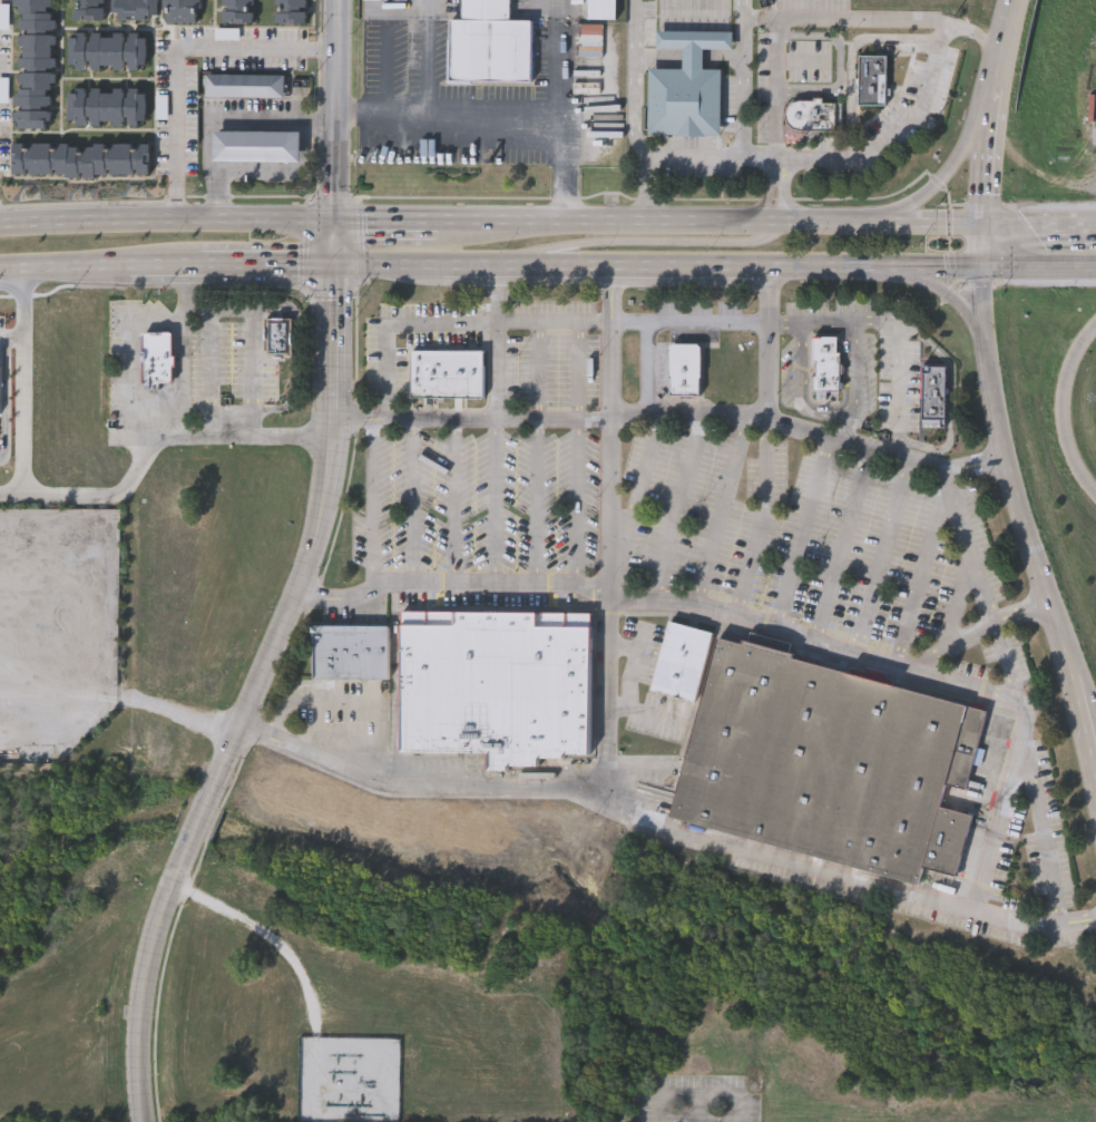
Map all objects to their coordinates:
building: (131, 8)
building: (604, 8)
building: (88, 9)
building: (487, 9)
building: (182, 10)
building: (237, 10)
building: (287, 10)
road: (797, 28)
road: (761, 29)
building: (106, 49)
building: (488, 49)
road: (425, 56)
road: (179, 57)
building: (33, 64)
building: (873, 78)
building: (688, 82)
building: (244, 84)
building: (106, 105)
road: (340, 110)
road: (999, 111)
road: (471, 113)
building: (808, 116)
road: (221, 119)
road: (893, 140)
building: (256, 145)
gas station: (256, 145)
building: (80, 158)
road: (692, 169)
road: (762, 170)
road: (950, 182)
road: (567, 194)
road: (649, 196)
road: (169, 218)
traffic signals: (340, 223)
road: (390, 223)
road: (713, 224)
traffic signals: (986, 225)
road: (1040, 225)
road: (647, 242)
road: (339, 245)
road: (164, 269)
road: (270, 269)
traffic signals: (339, 269)
road: (391, 269)
road: (469, 269)
road: (509, 269)
road: (62, 270)
road: (703, 270)
traffic signals: (981, 271)
road: (989, 271)
road: (604, 296)
road: (616, 296)
road: (30, 304)
road: (216, 309)
road: (952, 311)
road: (689, 319)
road: (809, 319)
road: (394, 323)
road: (443, 323)
road: (526, 324)
road: (797, 328)
road: (16, 336)
building: (277, 339)
road: (496, 345)
road: (764, 345)
road: (182, 353)
road: (120, 355)
building: (157, 359)
road: (799, 362)
building: (826, 362)
road: (853, 362)
building: (685, 368)
road: (609, 371)
road: (249, 372)
road: (383, 372)
building: (447, 372)
road: (207, 373)
road: (295, 377)
road: (955, 378)
road: (843, 389)
road: (897, 391)
building: (932, 397)
road: (1065, 416)
road: (470, 421)
road: (649, 421)
road: (847, 425)
road: (32, 431)
road: (808, 433)
road: (223, 438)
road: (535, 458)
road: (576, 458)
road: (1009, 479)
road: (115, 496)
road: (413, 505)
road: (453, 506)
road: (495, 507)
road: (372, 508)
road: (675, 510)
road: (720, 513)
building: (55, 521)
road: (760, 521)
road: (659, 528)
road: (797, 535)
road: (839, 547)
building: (100, 557)
road: (879, 559)
road: (919, 567)
road: (958, 598)
road: (663, 603)
road: (990, 607)
building: (100, 613)
road: (606, 614)
road: (972, 630)
road: (620, 650)
building: (349, 651)
building: (682, 660)
road: (630, 669)
building: (498, 683)
road: (393, 690)
road: (253, 699)
road: (344, 702)
road: (645, 715)
road: (311, 723)
road: (1092, 732)
road: (344, 733)
road: (1092, 747)
building: (10, 753)
building: (829, 762)
road: (998, 817)
road: (667, 826)
road: (1044, 839)
road: (698, 1094)

